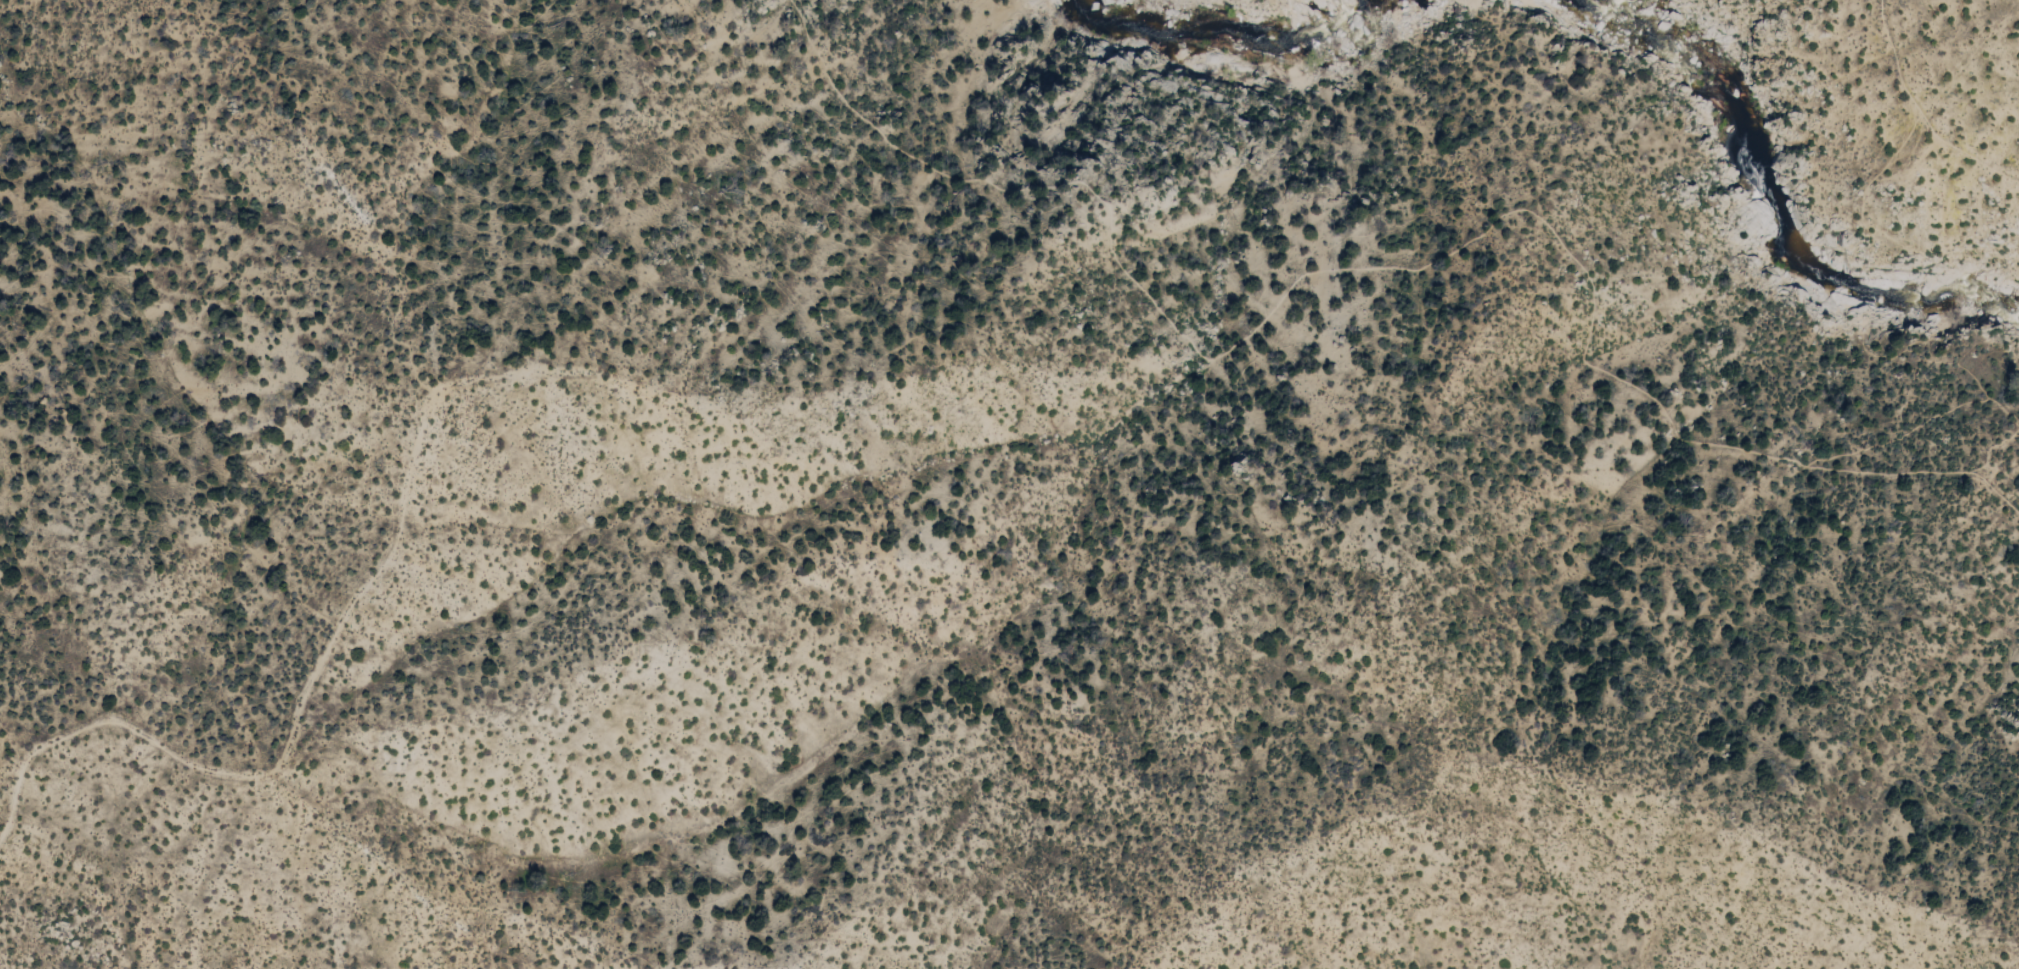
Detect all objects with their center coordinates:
road: (1392, 267)
road: (1953, 413)

